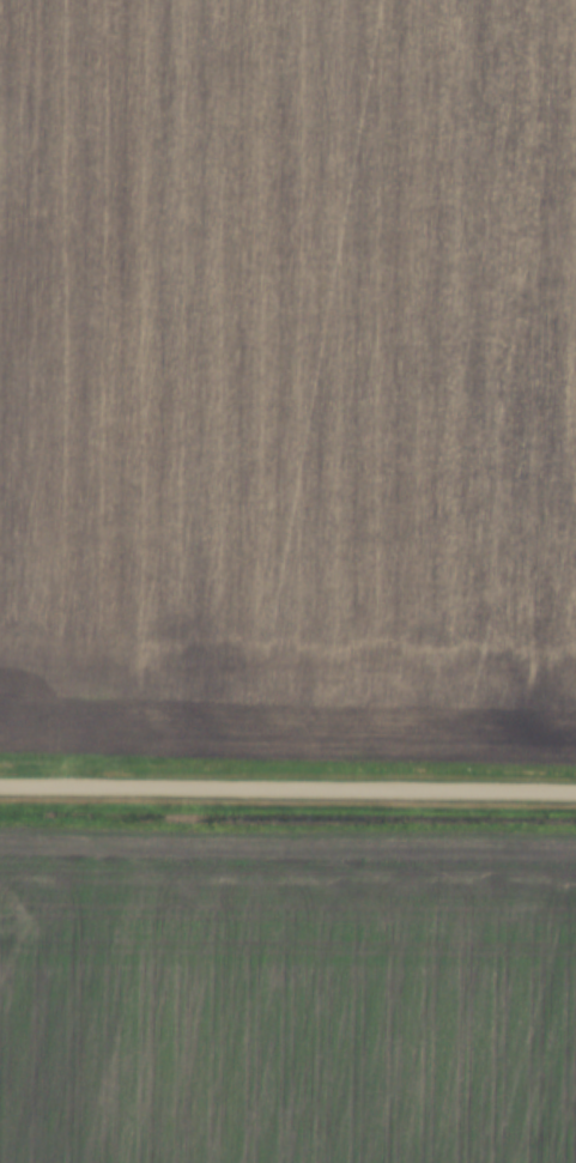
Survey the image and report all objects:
road: (287, 786)

